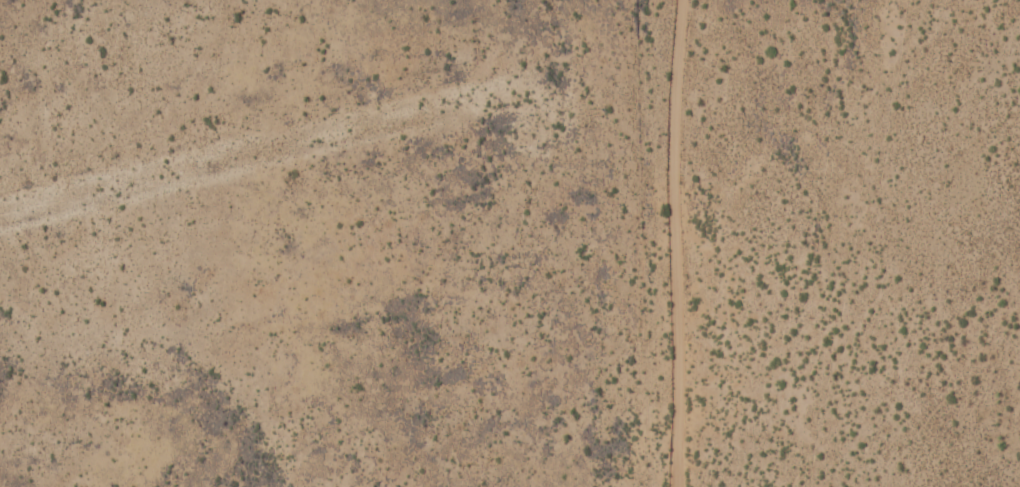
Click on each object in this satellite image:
airport runway: (267, 153)
road: (676, 243)

